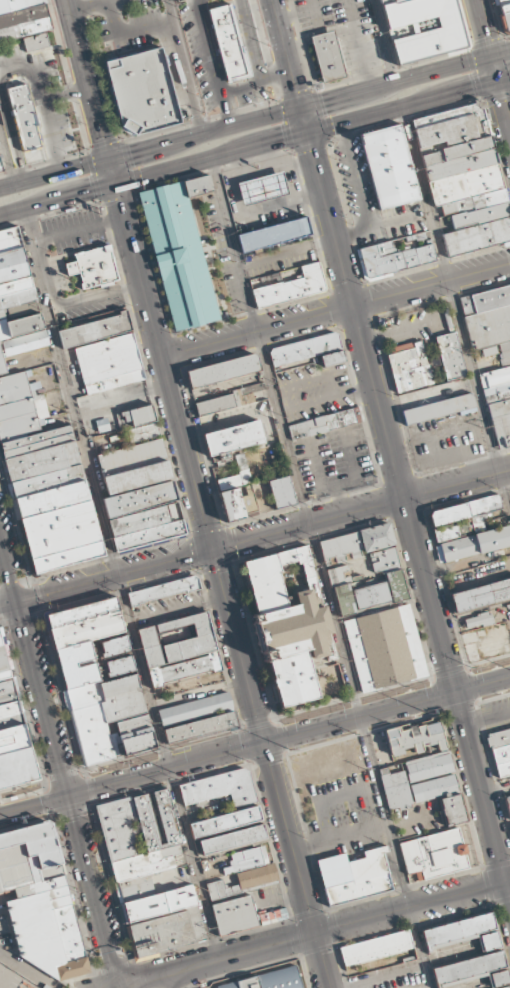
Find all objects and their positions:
building: (500, 1)
building: (394, 2)
building: (506, 15)
building: (22, 18)
road: (484, 27)
building: (427, 29)
parking lot: (344, 31)
traffic signals: (487, 36)
road: (385, 41)
building: (35, 42)
building: (231, 44)
road: (501, 53)
road: (286, 54)
building: (327, 57)
road: (188, 67)
road: (495, 69)
road: (88, 80)
road: (504, 80)
traffic signals: (295, 88)
traffic signals: (470, 89)
building: (143, 90)
traffic signals: (324, 102)
road: (503, 103)
road: (301, 108)
building: (24, 117)
building: (450, 128)
road: (307, 133)
traffic signals: (104, 138)
traffic signals: (281, 141)
building: (456, 152)
traffic signals: (313, 153)
traffic signals: (130, 155)
road: (7, 158)
building: (460, 165)
building: (390, 167)
building: (0, 168)
road: (113, 171)
road: (54, 174)
building: (465, 184)
building: (199, 185)
traffic signals: (91, 189)
building: (260, 189)
gas station: (260, 189)
road: (360, 194)
road: (57, 198)
parking lot: (372, 200)
building: (471, 204)
traffic signals: (122, 205)
building: (480, 215)
building: (274, 234)
building: (477, 236)
building: (397, 254)
building: (179, 255)
building: (280, 258)
building: (93, 266)
building: (292, 287)
building: (490, 298)
building: (17, 302)
road: (352, 302)
road: (454, 305)
road: (335, 309)
building: (488, 327)
building: (94, 330)
building: (304, 349)
building: (451, 356)
building: (107, 358)
building: (332, 358)
road: (164, 365)
building: (222, 370)
building: (410, 370)
building: (494, 377)
building: (114, 381)
parking lot: (314, 391)
building: (434, 394)
building: (214, 404)
building: (498, 408)
building: (438, 409)
building: (135, 417)
building: (325, 423)
building: (502, 428)
building: (143, 433)
building: (233, 438)
parking lot: (446, 440)
building: (131, 458)
parking lot: (335, 460)
building: (136, 477)
building: (45, 481)
road: (457, 482)
building: (281, 492)
building: (139, 499)
building: (232, 504)
building: (462, 518)
building: (138, 521)
road: (308, 523)
building: (148, 535)
building: (376, 537)
building: (339, 545)
building: (472, 545)
traffic signals: (212, 549)
road: (9, 567)
road: (322, 573)
road: (115, 575)
road: (121, 584)
building: (396, 586)
building: (163, 590)
building: (370, 595)
road: (429, 595)
building: (481, 595)
building: (342, 600)
traffic signals: (18, 601)
road: (9, 603)
building: (477, 621)
building: (286, 625)
building: (114, 646)
road: (237, 646)
building: (385, 648)
building: (179, 649)
road: (488, 660)
building: (120, 666)
road: (449, 671)
building: (97, 685)
road: (482, 685)
road: (353, 696)
building: (194, 708)
road: (358, 718)
road: (258, 721)
building: (199, 727)
building: (13, 732)
building: (414, 738)
building: (499, 738)
railway: (255, 742)
road: (163, 747)
building: (501, 754)
building: (428, 766)
building: (503, 768)
road: (166, 769)
road: (62, 774)
road: (20, 785)
building: (220, 788)
building: (395, 789)
road: (69, 792)
road: (482, 795)
building: (441, 797)
railway: (2, 804)
road: (35, 804)
building: (508, 804)
building: (226, 821)
building: (233, 839)
building: (434, 854)
building: (245, 861)
road: (296, 865)
building: (148, 876)
building: (354, 876)
building: (245, 881)
building: (40, 901)
building: (234, 915)
building: (464, 933)
road: (313, 934)
building: (376, 947)
road: (25, 971)
building: (473, 971)
road: (181, 977)
parking lot: (13, 979)
building: (268, 979)
road: (104, 986)
road: (116, 986)
road: (117, 986)
building: (506, 987)

